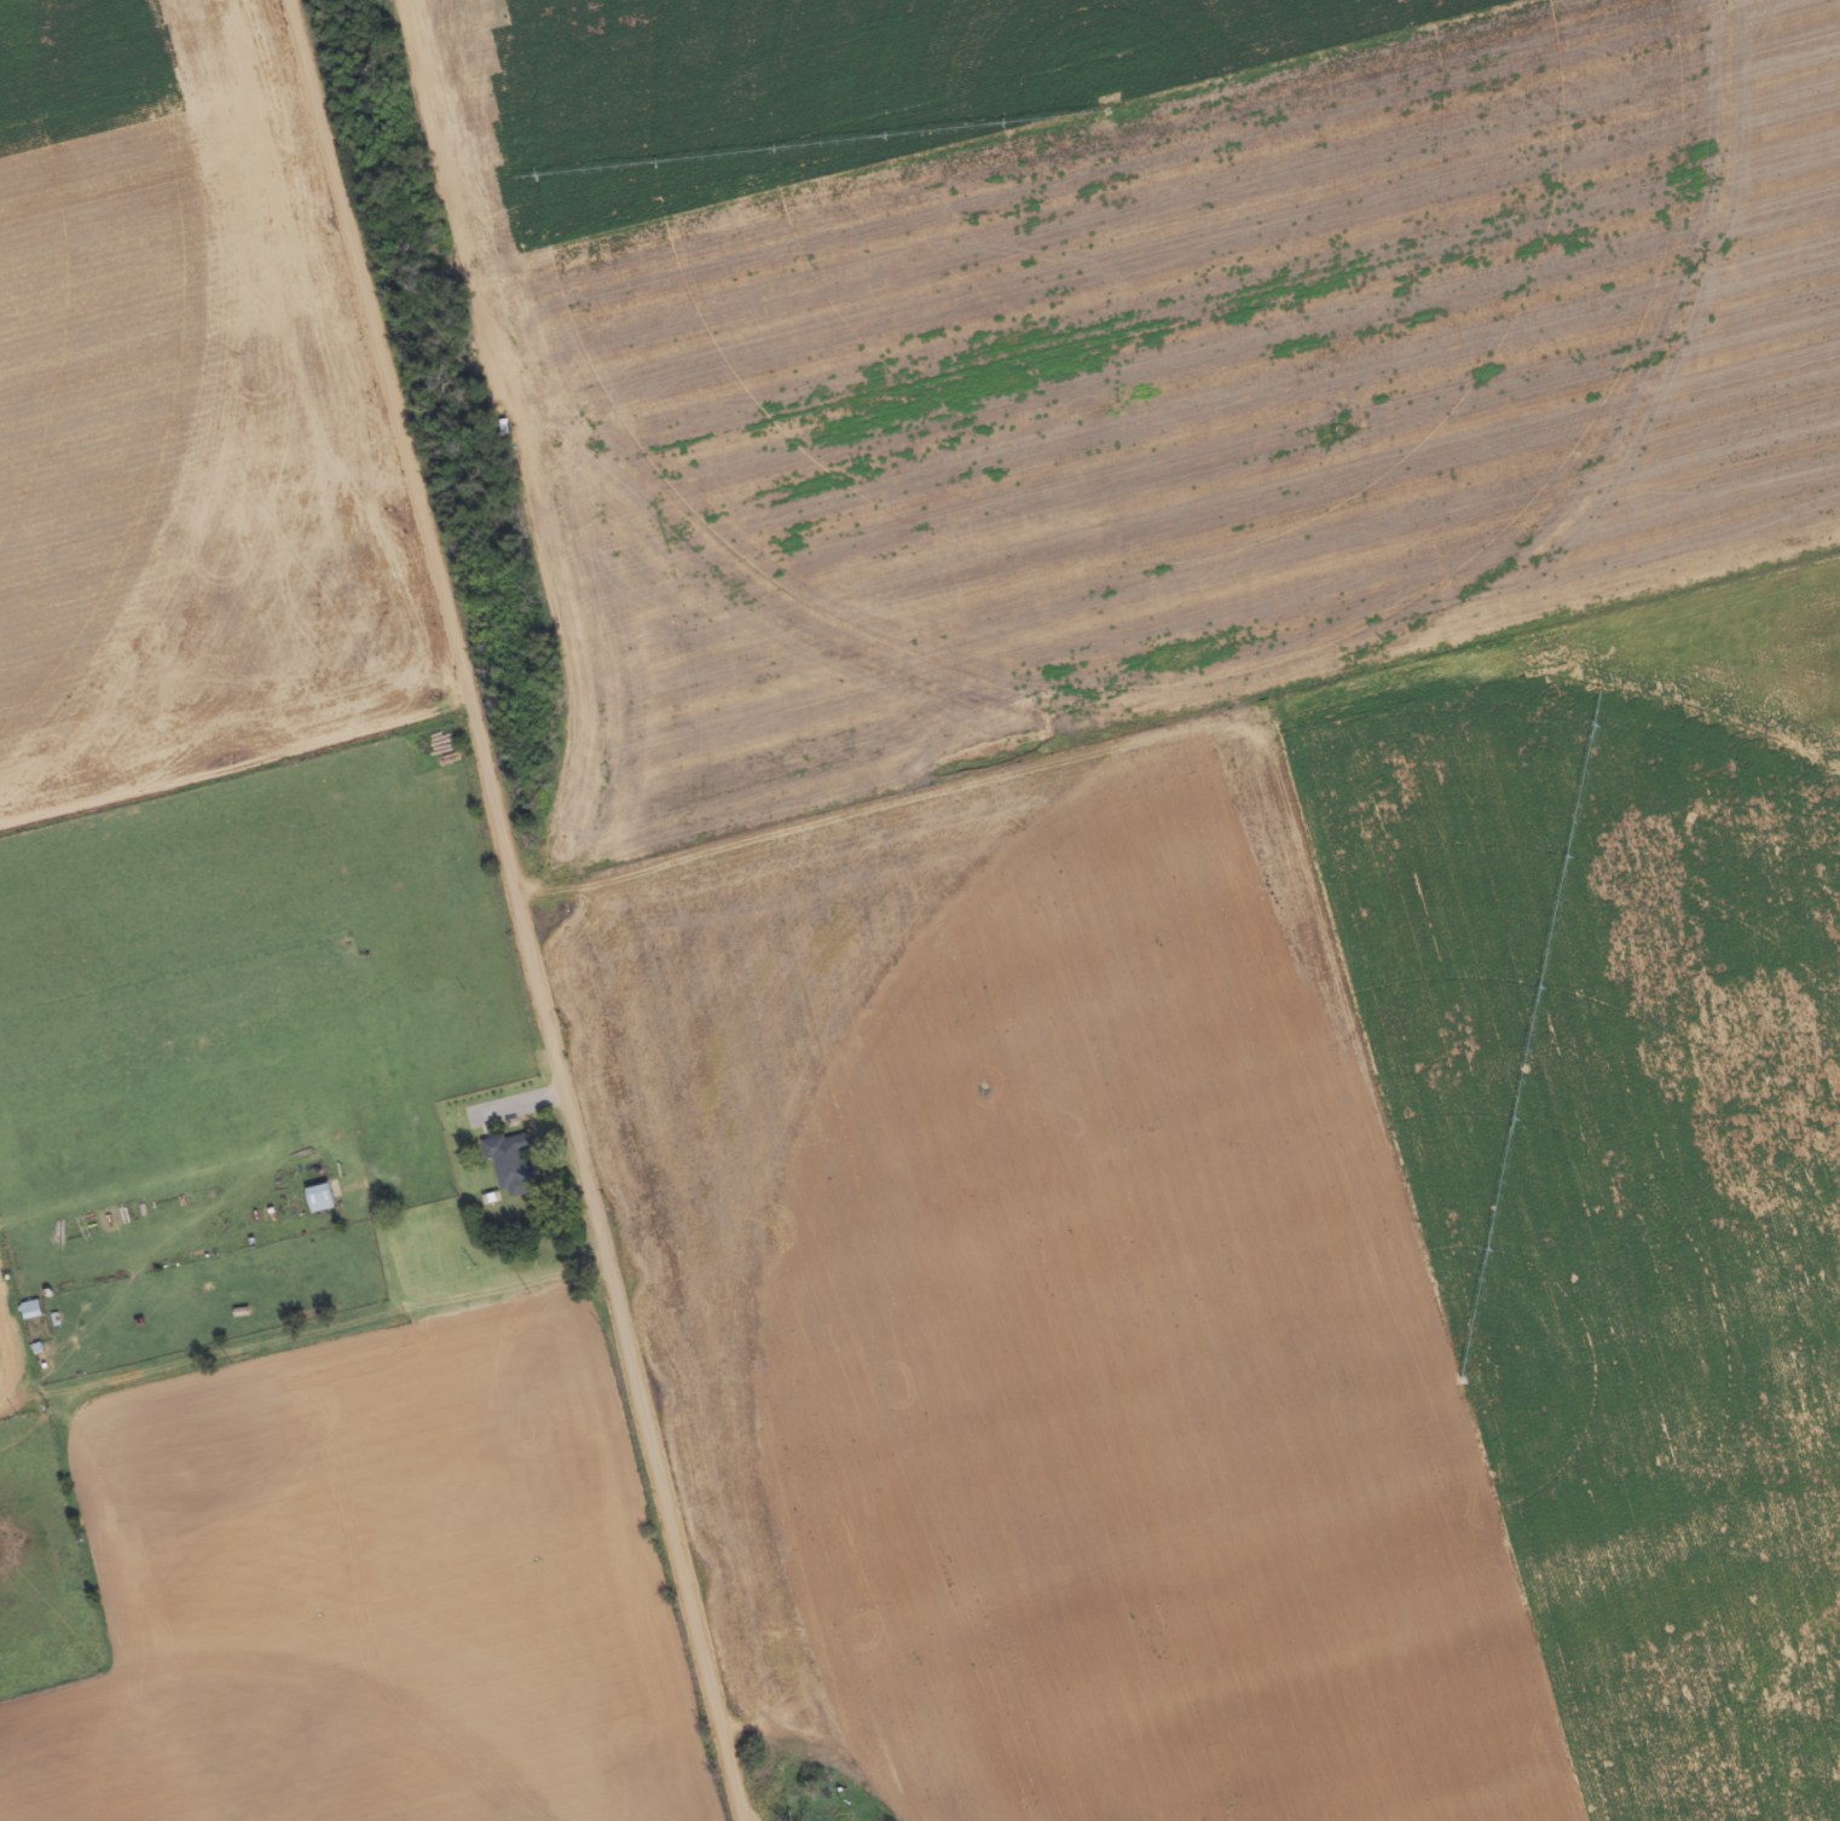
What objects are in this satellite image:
road: (516, 909)
building: (517, 1163)
building: (328, 1199)
building: (36, 1310)
road: (300, 1311)

